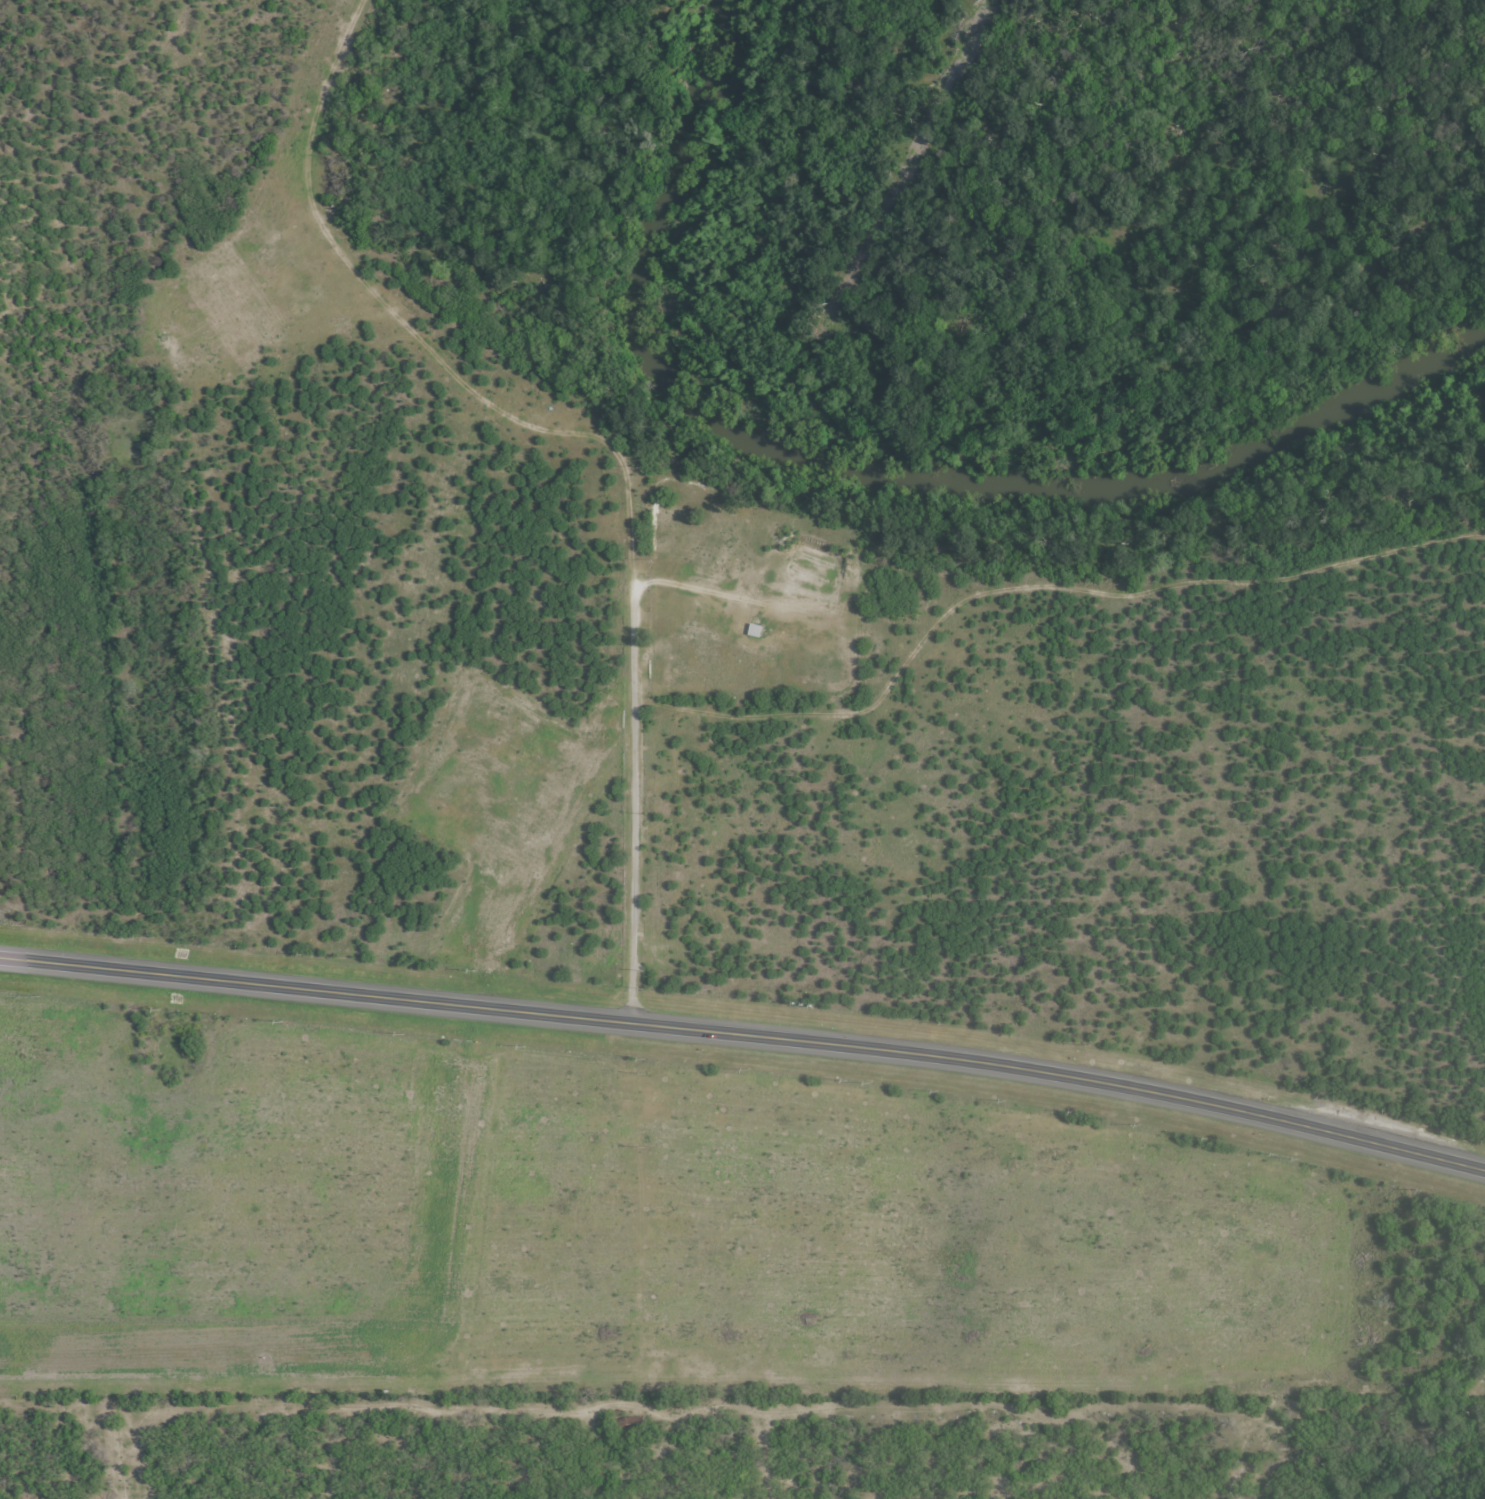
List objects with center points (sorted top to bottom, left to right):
river: (878, 470)
road: (747, 1035)
park: (1473, 1387)

